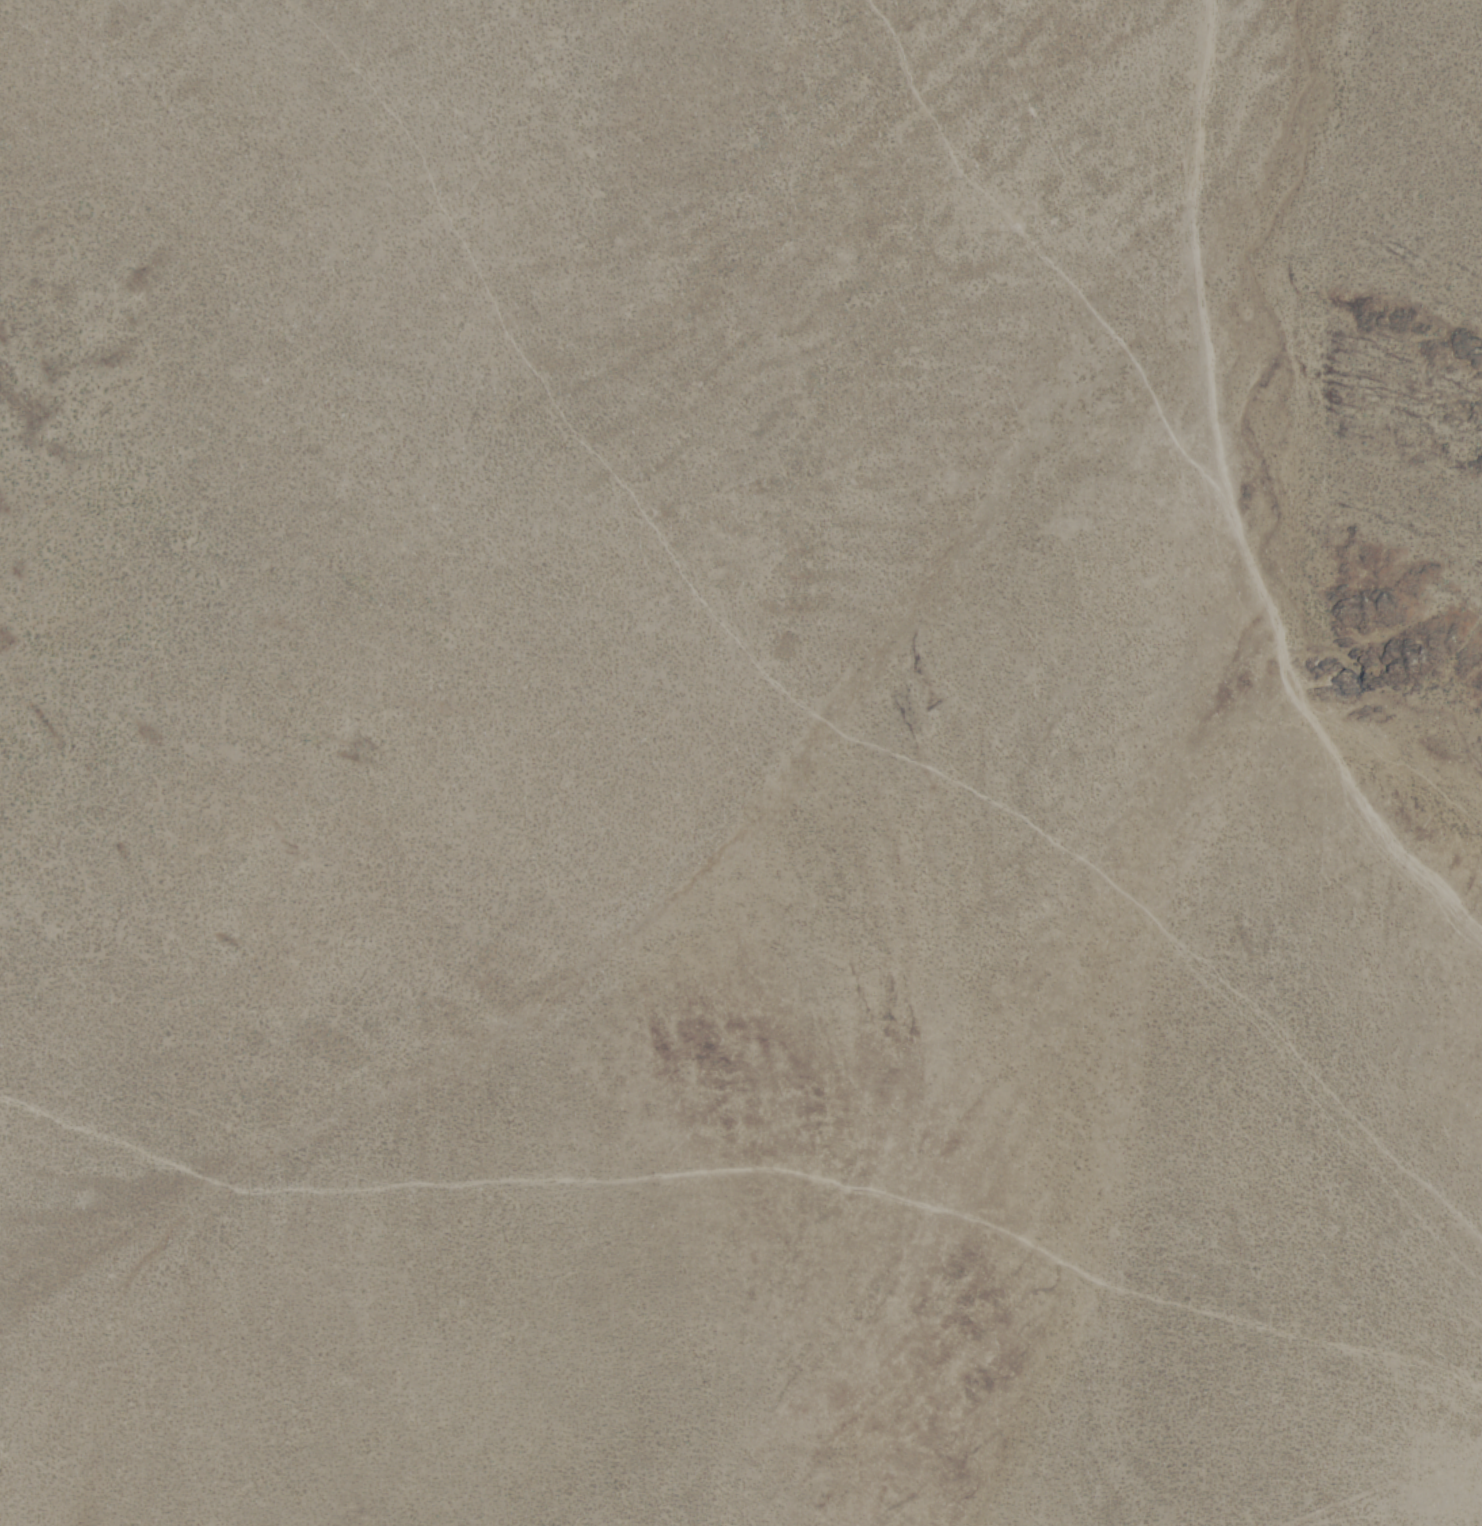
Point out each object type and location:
road: (1389, 1488)

